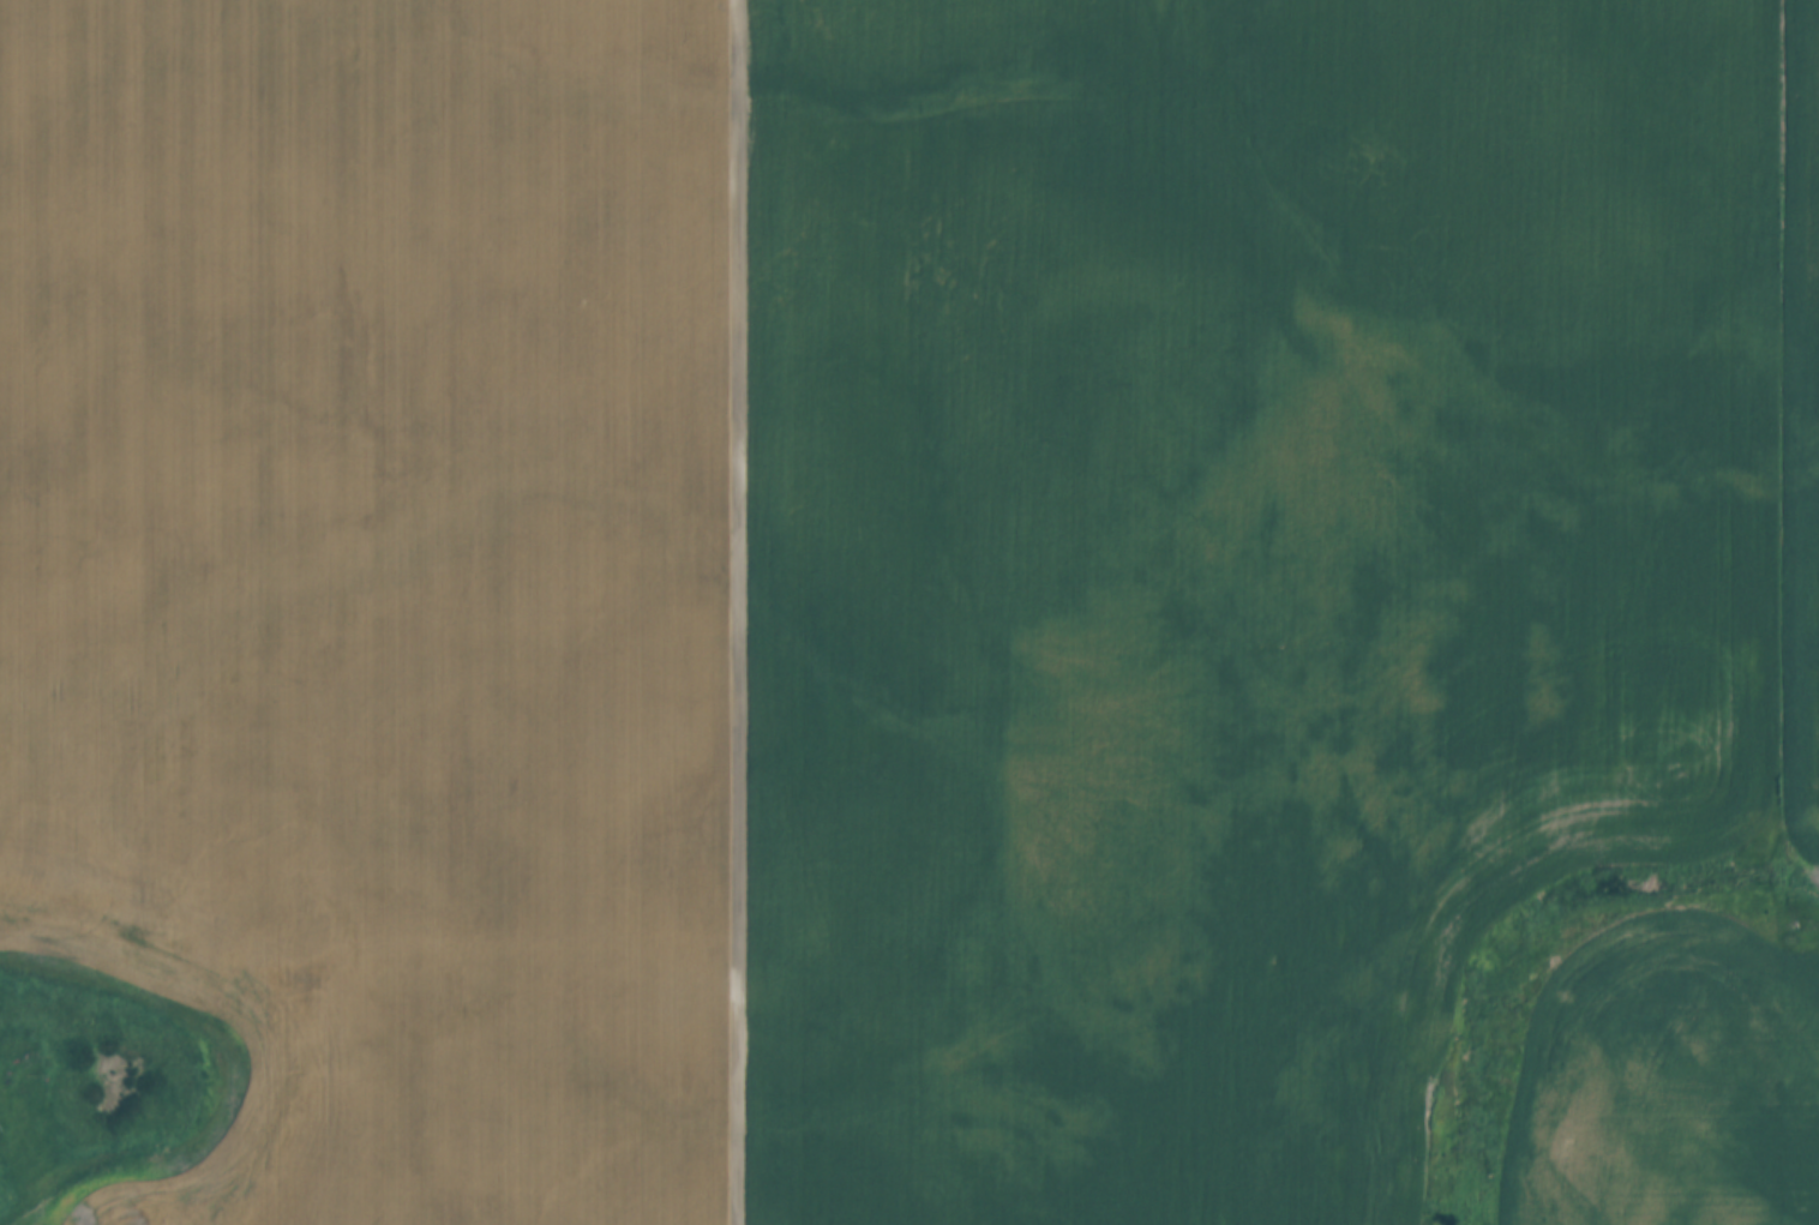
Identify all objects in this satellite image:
road: (750, 612)

